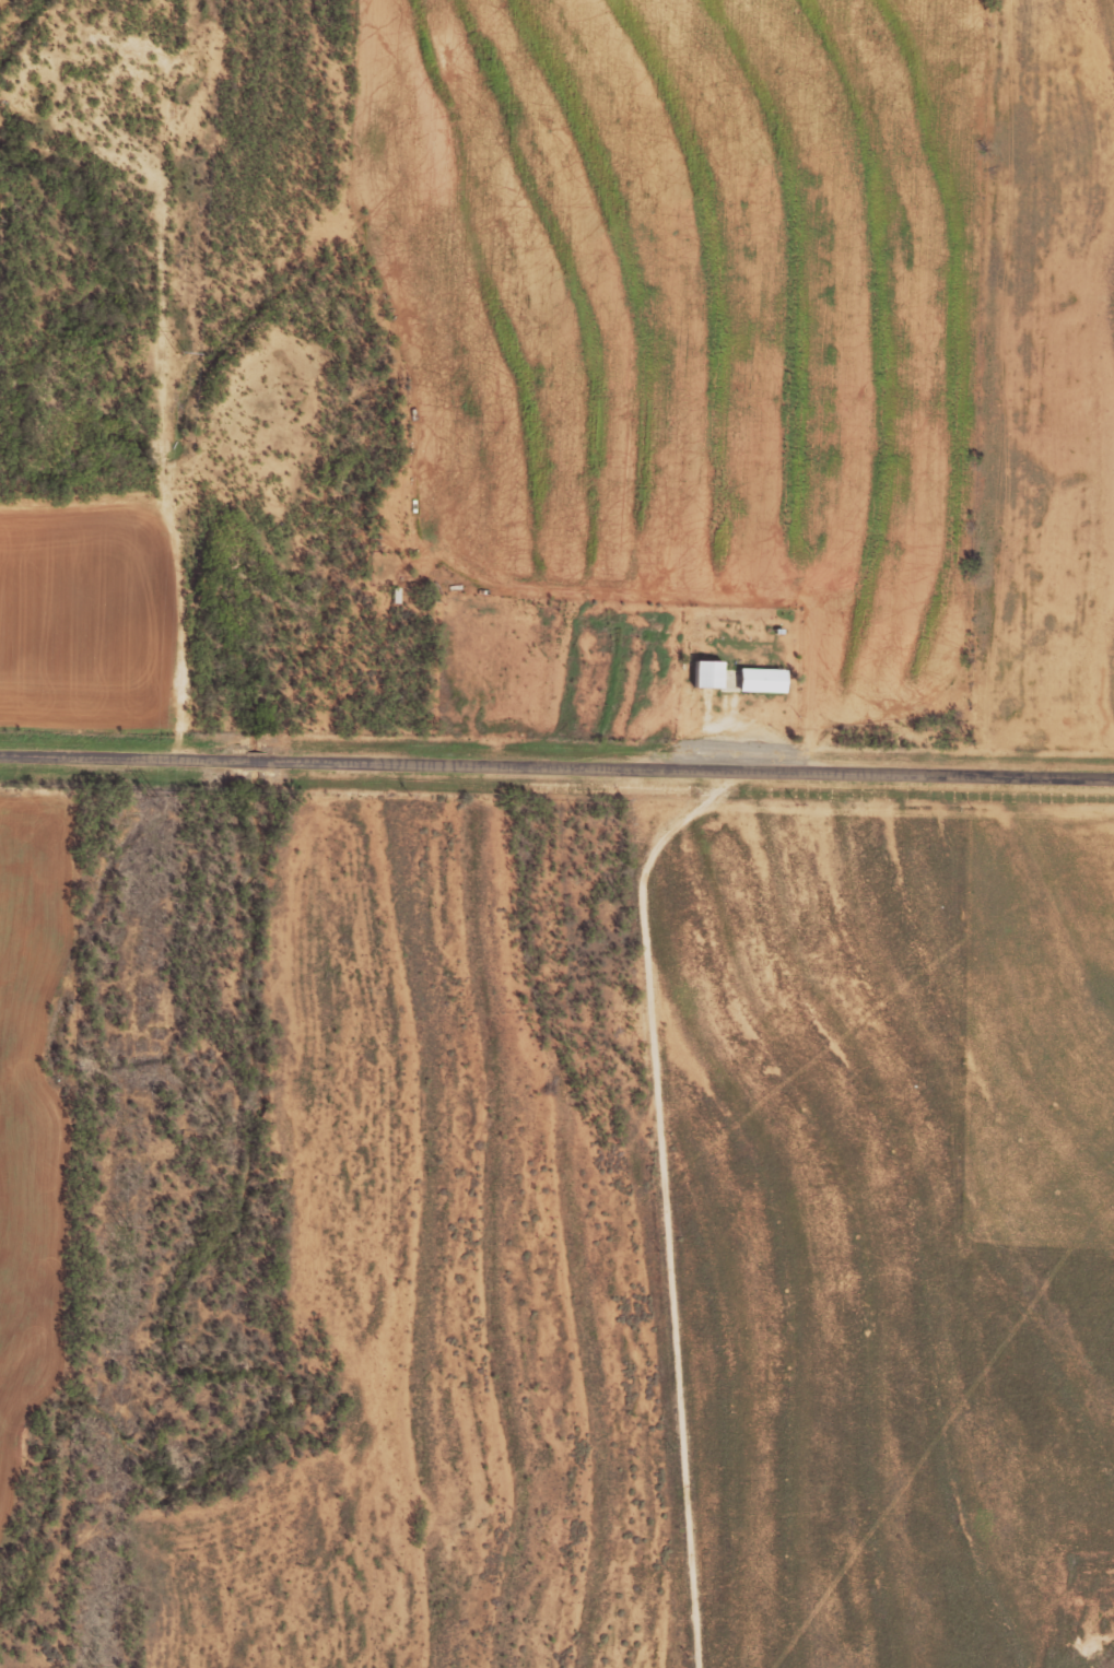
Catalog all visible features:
power tower: (183, 348)
building: (708, 673)
building: (759, 679)
road: (556, 764)
power tower: (150, 796)
power tower: (121, 1218)
power tower: (95, 1661)

